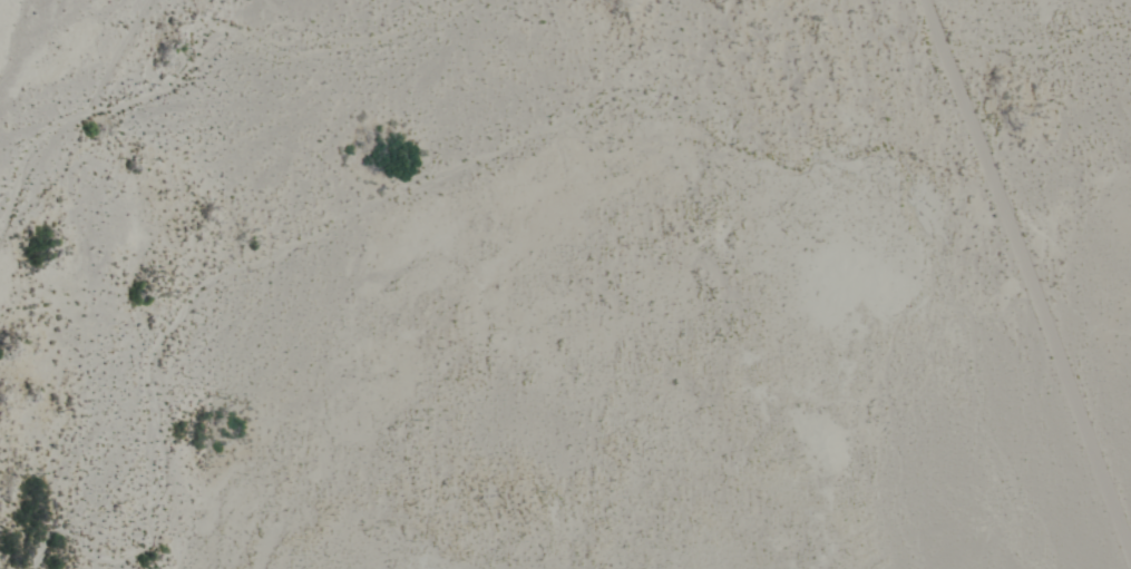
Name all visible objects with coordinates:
road: (1026, 282)

